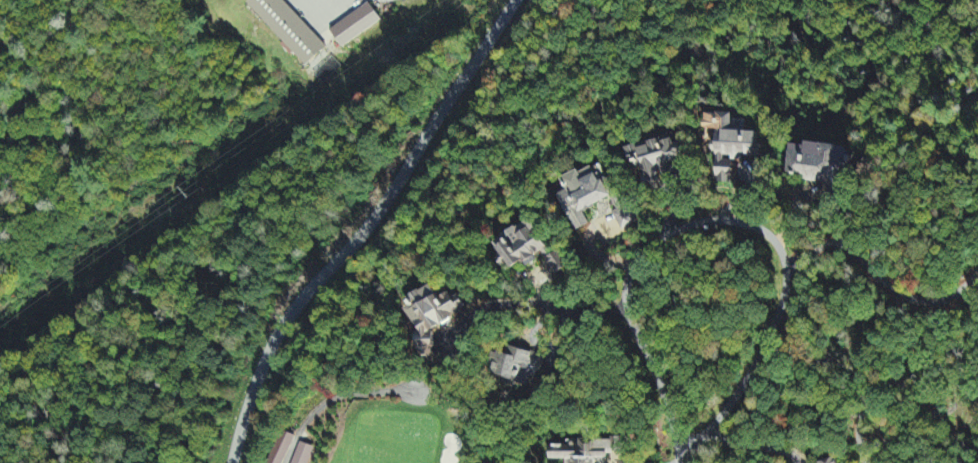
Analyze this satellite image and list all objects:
building: (355, 27)
building: (288, 29)
building: (733, 147)
building: (655, 162)
building: (815, 162)
building: (588, 199)
road: (725, 222)
road: (366, 228)
building: (527, 251)
building: (432, 317)
building: (513, 366)
park: (370, 423)
building: (282, 448)
building: (586, 452)
building: (301, 454)
road: (681, 459)
building: (831, 461)

